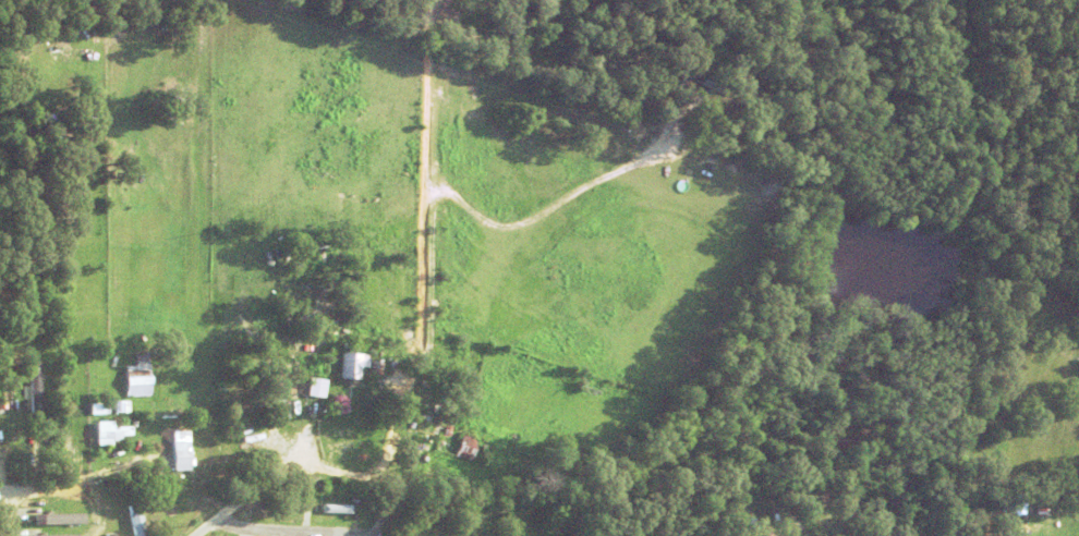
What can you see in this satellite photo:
building: (662, 71)
building: (707, 81)
building: (728, 107)
building: (175, 108)
building: (60, 127)
building: (66, 145)
building: (675, 157)
building: (23, 341)
building: (683, 357)
building: (353, 365)
building: (376, 367)
building: (140, 377)
building: (35, 386)
building: (306, 387)
building: (317, 387)
building: (10, 399)
building: (121, 405)
building: (100, 409)
building: (448, 429)
building: (415, 430)
building: (439, 430)
building: (110, 433)
building: (233, 440)
building: (473, 449)
building: (59, 451)
building: (5, 452)
building: (183, 461)
road: (267, 483)
road: (128, 500)
building: (1044, 507)
building: (1014, 508)
building: (292, 509)
building: (339, 510)
building: (58, 520)
building: (136, 520)
road: (282, 526)
building: (109, 527)
building: (52, 535)

